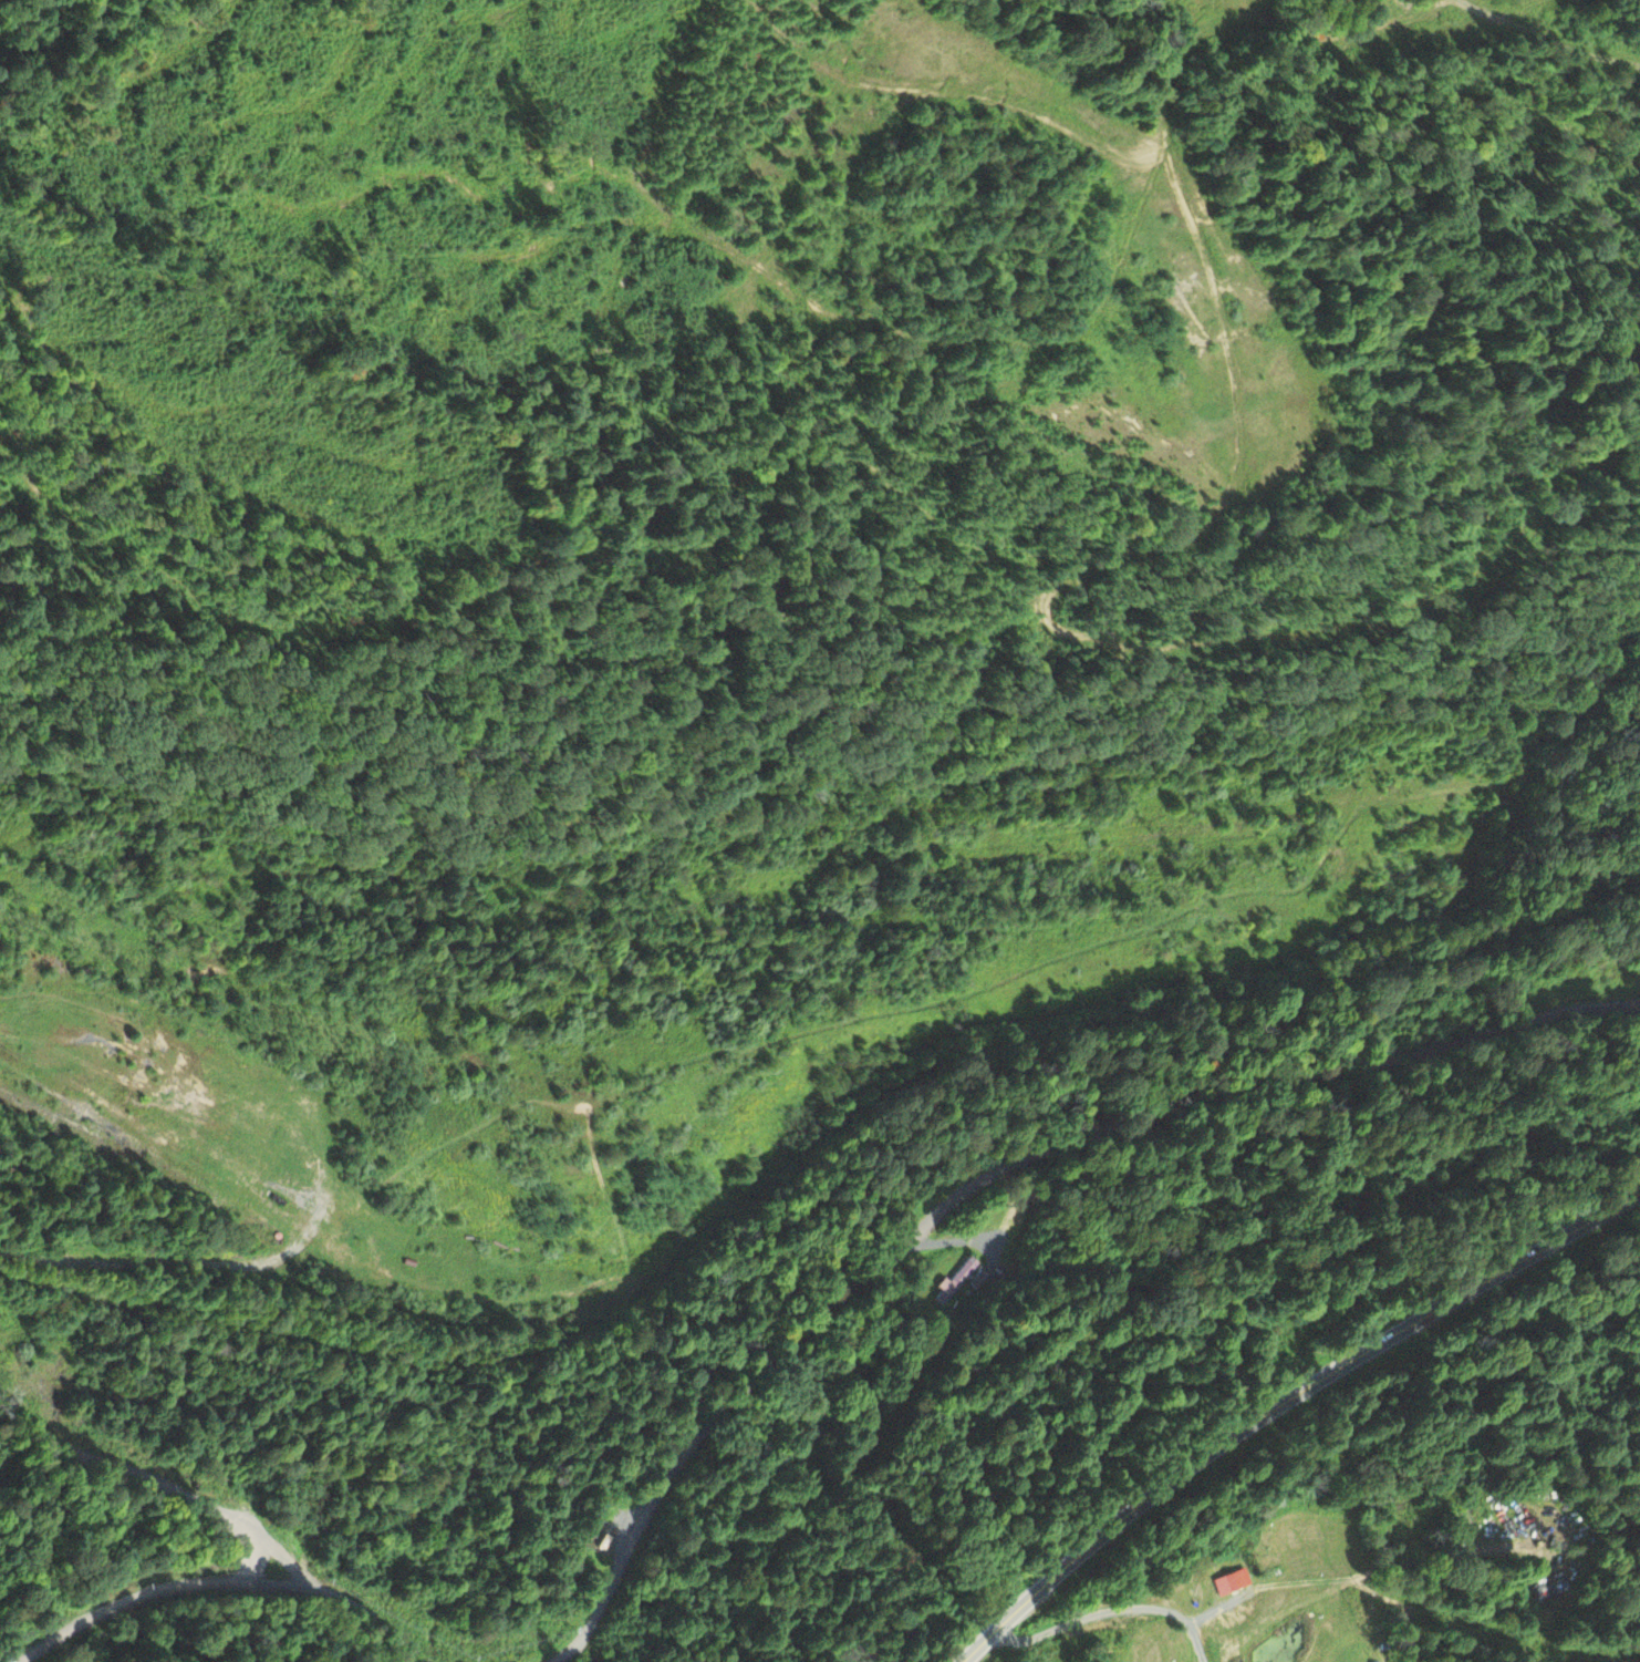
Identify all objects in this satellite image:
road: (993, 1175)
road: (1284, 1405)
road: (152, 1480)
road: (230, 1578)

